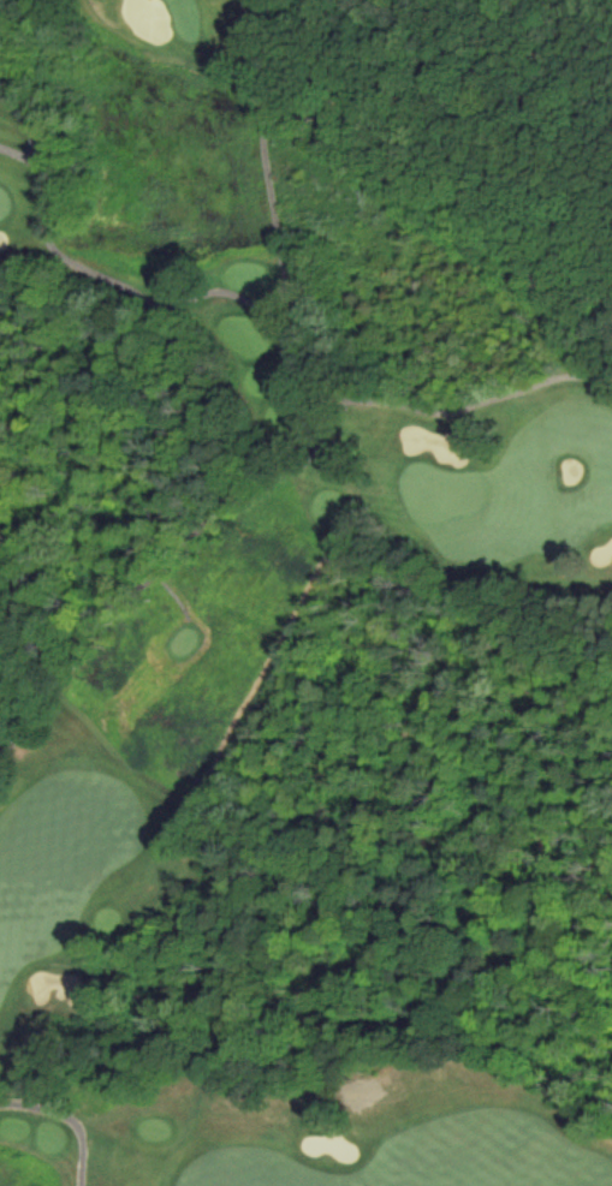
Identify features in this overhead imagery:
road: (265, 159)
road: (147, 297)
road: (261, 467)
park: (283, 648)
road: (67, 1120)

